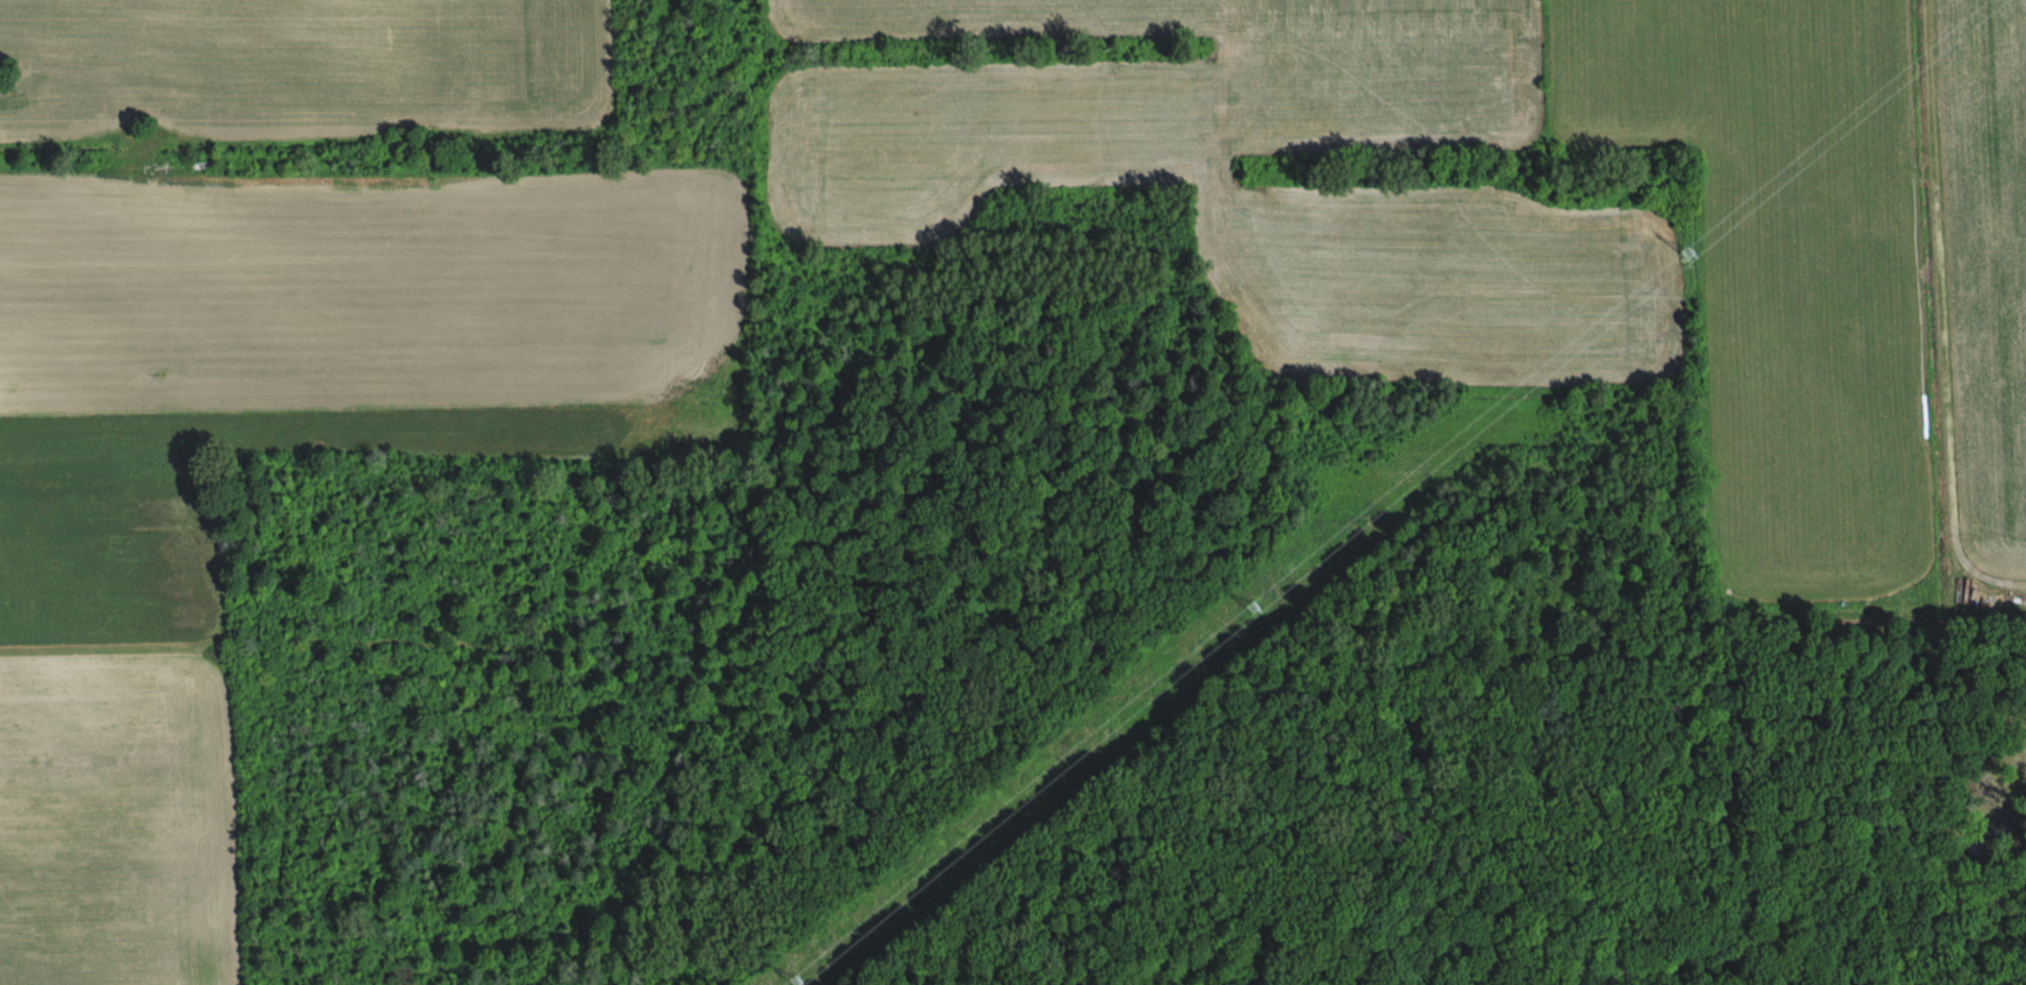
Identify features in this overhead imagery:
crop: (302, 69)
crop: (1349, 193)
power tower: (1685, 251)
crop: (1987, 269)
crop: (1784, 270)
power tower: (1250, 610)
crop: (113, 622)
power tower: (799, 982)

